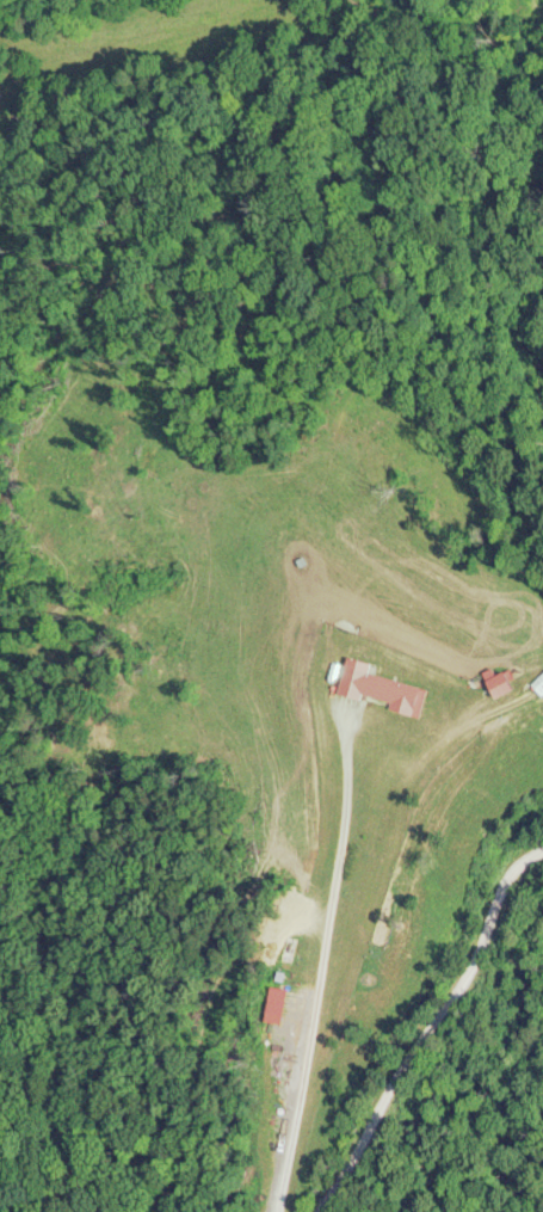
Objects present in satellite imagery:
building: (498, 685)
building: (380, 690)
road: (427, 1035)

